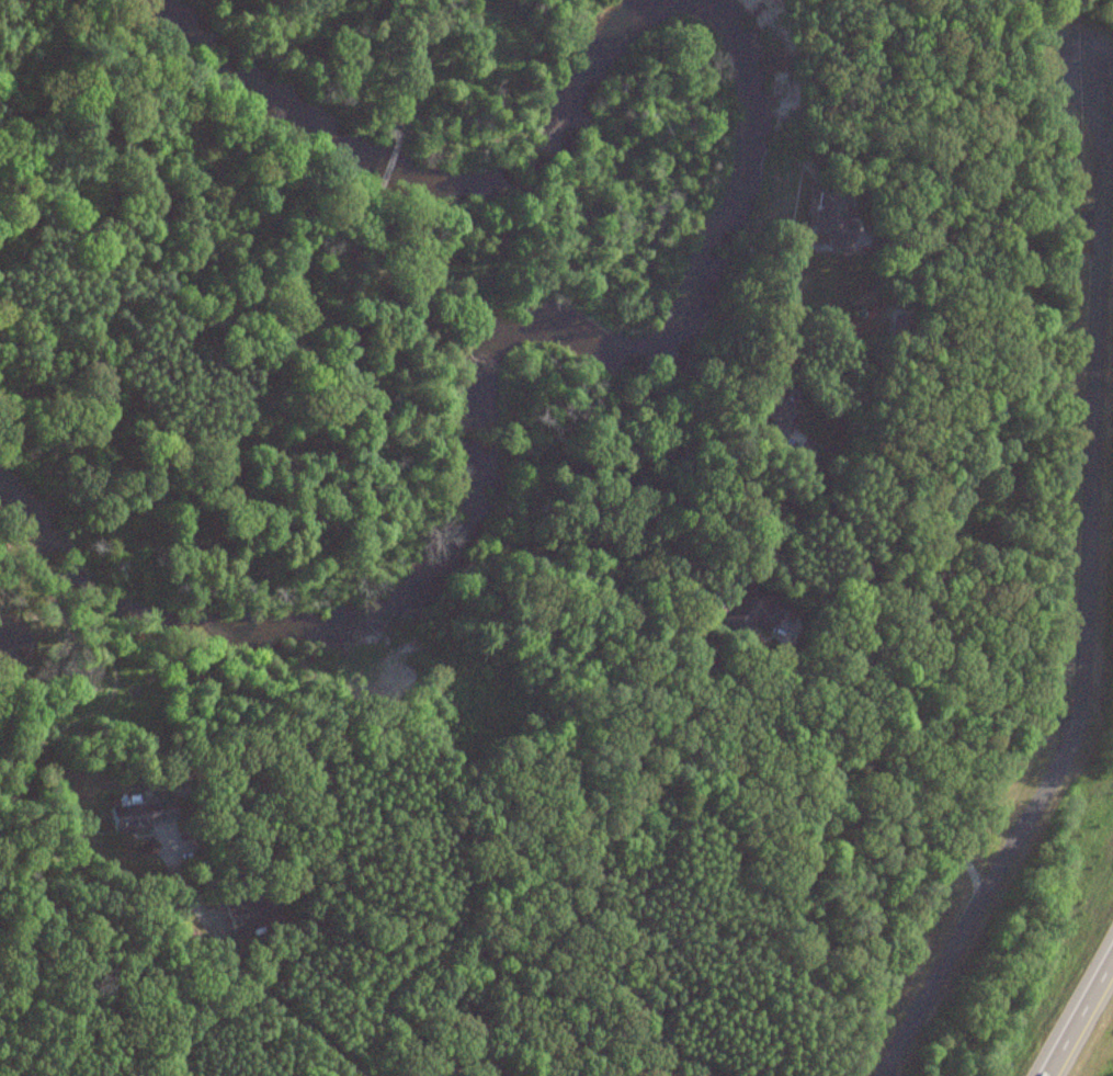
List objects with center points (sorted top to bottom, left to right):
river: (424, 175)
building: (833, 222)
road: (1001, 229)
building: (776, 408)
river: (476, 416)
building: (452, 589)
road: (1081, 605)
road: (916, 613)
building: (752, 616)
road: (893, 747)
building: (141, 818)
road: (257, 990)
road: (1072, 1008)
road: (441, 1067)

